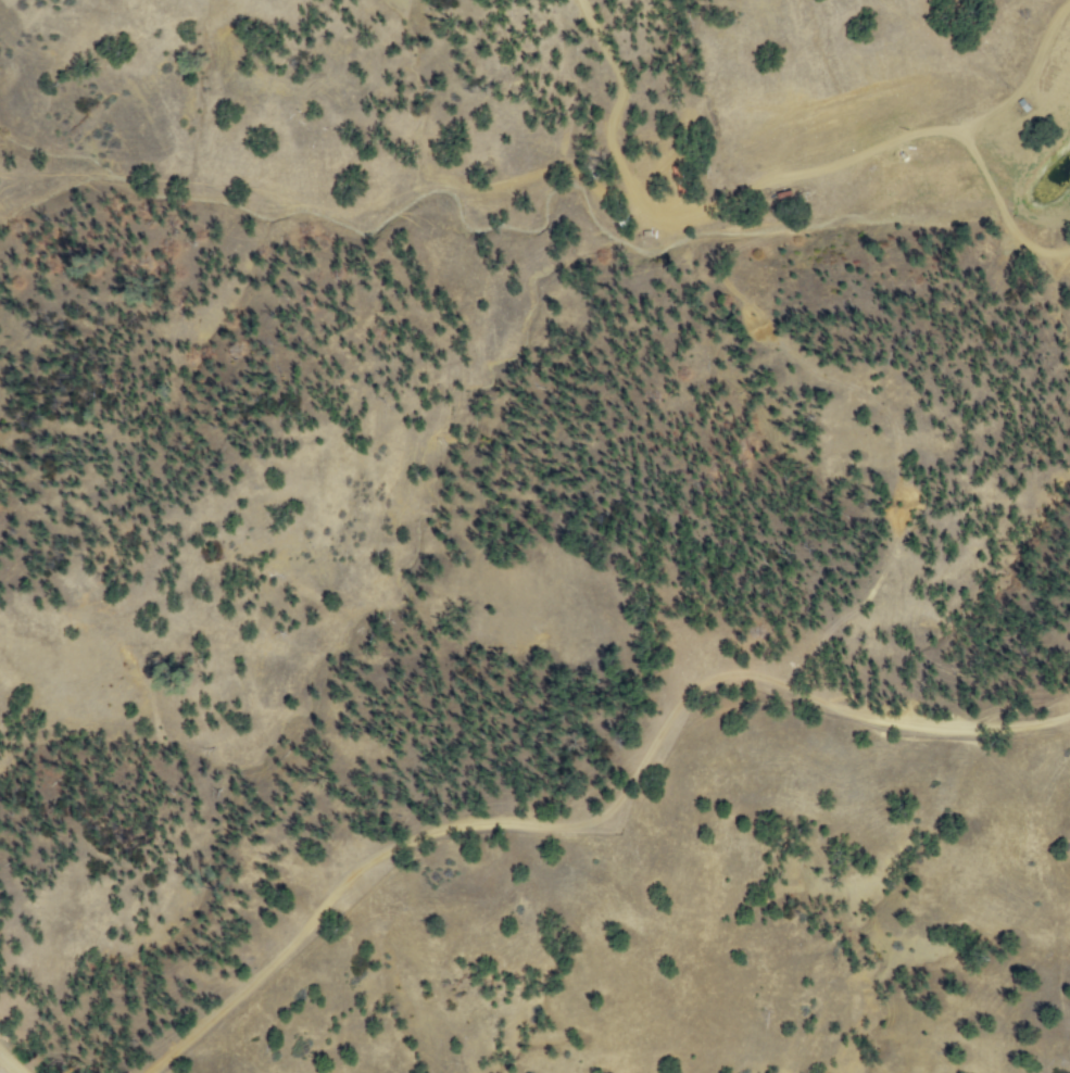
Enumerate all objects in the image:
road: (13, 1059)

